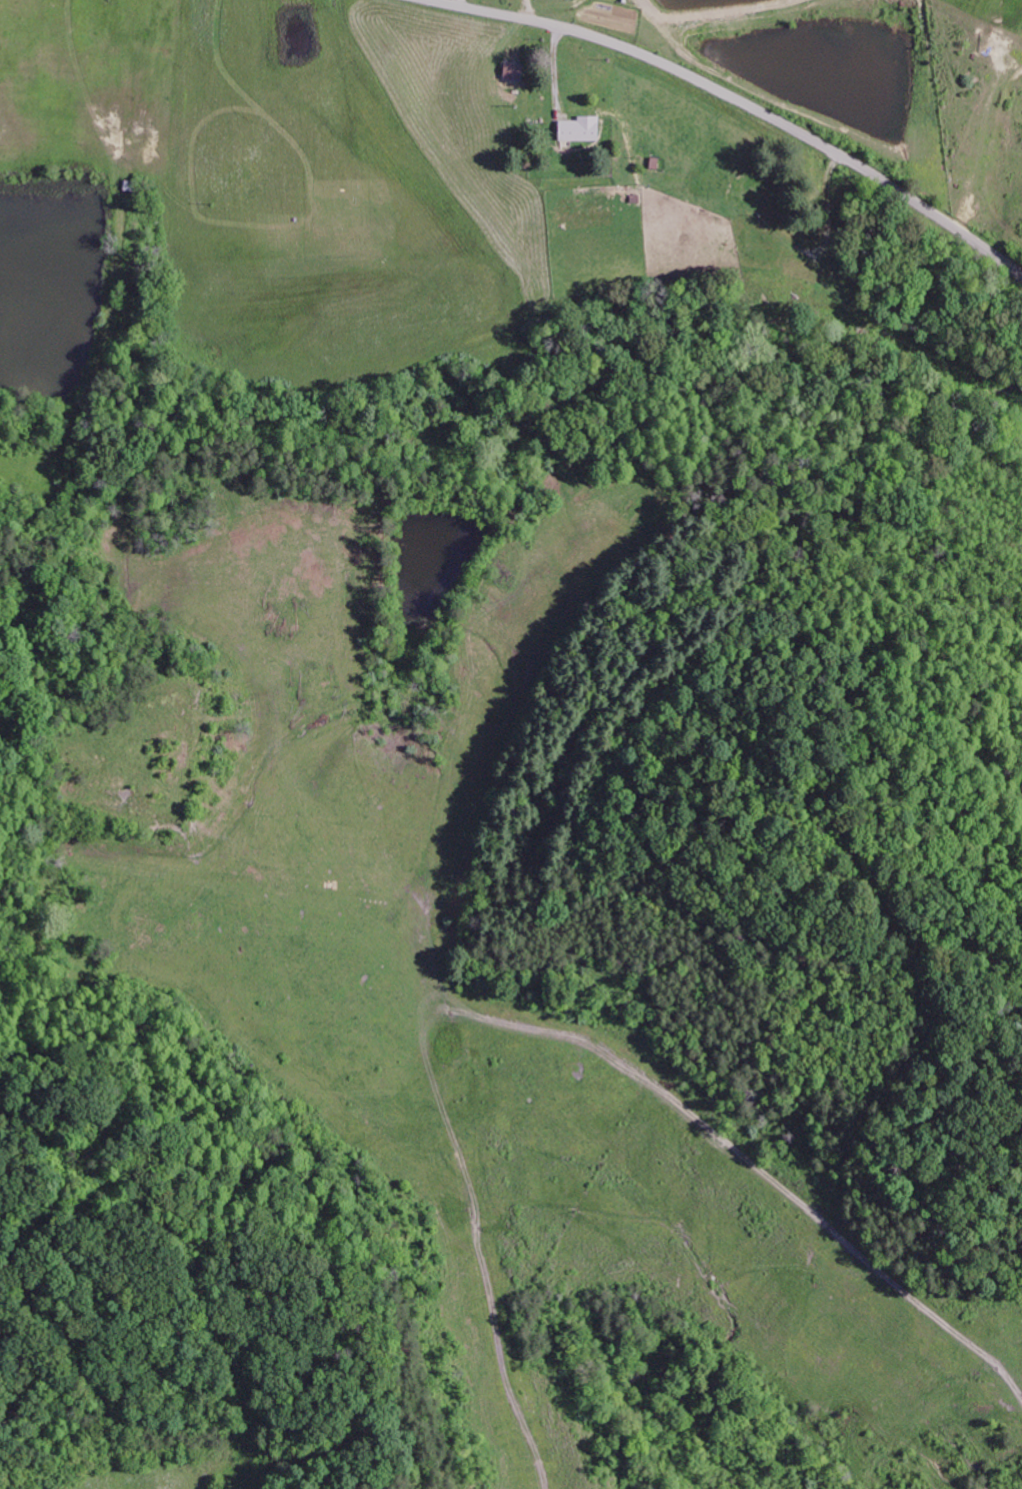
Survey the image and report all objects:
road: (744, 101)
building: (577, 129)

